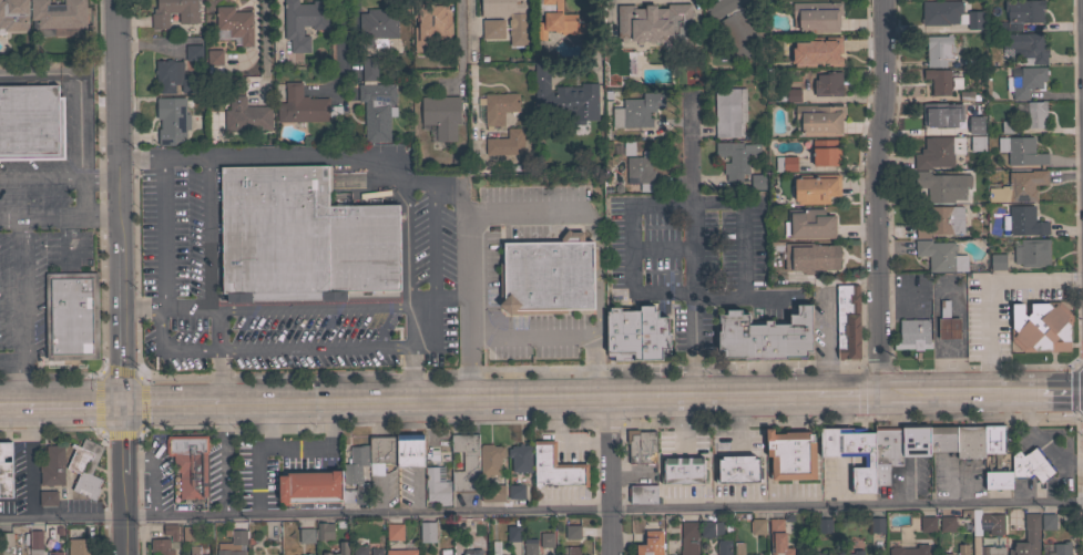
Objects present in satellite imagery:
building: (1023, 12)
building: (13, 14)
building: (949, 14)
building: (57, 16)
building: (816, 17)
building: (188, 18)
building: (509, 18)
building: (560, 21)
building: (302, 22)
building: (235, 23)
building: (656, 24)
building: (377, 27)
building: (737, 27)
building: (431, 29)
building: (492, 29)
road: (459, 42)
road: (472, 42)
building: (796, 44)
road: (340, 45)
building: (1026, 47)
building: (826, 49)
building: (938, 50)
building: (194, 52)
building: (214, 58)
building: (369, 69)
building: (173, 76)
building: (941, 81)
building: (1024, 81)
building: (828, 84)
building: (794, 94)
building: (968, 95)
building: (564, 96)
building: (302, 105)
road: (79, 107)
building: (498, 107)
building: (377, 110)
building: (636, 111)
building: (729, 112)
building: (1035, 114)
building: (246, 115)
building: (441, 115)
building: (934, 115)
building: (172, 120)
building: (819, 120)
building: (965, 123)
building: (1007, 126)
building: (24, 133)
building: (507, 143)
building: (977, 143)
building: (1021, 151)
building: (938, 152)
building: (825, 153)
road: (348, 156)
building: (735, 157)
building: (527, 163)
building: (785, 163)
building: (641, 172)
road: (41, 176)
road: (100, 176)
building: (757, 182)
building: (941, 186)
building: (1018, 187)
building: (816, 188)
road: (876, 194)
road: (682, 202)
road: (60, 216)
building: (941, 222)
building: (1023, 222)
building: (810, 224)
building: (272, 232)
road: (159, 233)
road: (204, 239)
road: (432, 240)
road: (407, 244)
road: (467, 245)
road: (692, 246)
building: (360, 247)
building: (1031, 253)
building: (940, 256)
building: (810, 257)
building: (997, 261)
road: (121, 277)
building: (543, 286)
road: (992, 292)
road: (440, 297)
road: (307, 308)
road: (21, 310)
building: (71, 315)
building: (847, 321)
building: (947, 323)
building: (1040, 327)
road: (215, 332)
building: (636, 335)
building: (912, 335)
building: (765, 336)
road: (316, 347)
road: (174, 348)
road: (412, 350)
road: (11, 360)
road: (500, 371)
road: (50, 373)
road: (221, 374)
road: (136, 376)
road: (1076, 387)
road: (1053, 389)
road: (605, 394)
road: (28, 403)
road: (89, 403)
traffic signals: (122, 403)
road: (155, 403)
road: (366, 423)
road: (51, 428)
building: (941, 438)
road: (1038, 438)
building: (993, 439)
building: (915, 441)
building: (969, 441)
building: (641, 446)
building: (409, 450)
building: (381, 453)
building: (851, 453)
building: (790, 454)
building: (886, 454)
building: (432, 458)
building: (520, 458)
building: (490, 459)
building: (466, 462)
building: (190, 463)
building: (1030, 464)
building: (52, 466)
building: (85, 467)
building: (555, 467)
building: (737, 469)
building: (6, 470)
building: (683, 470)
road: (609, 474)
building: (356, 475)
building: (998, 477)
building: (437, 485)
road: (908, 485)
building: (310, 487)
building: (517, 492)
building: (492, 493)
building: (643, 494)
building: (48, 497)
road: (541, 510)
building: (746, 516)
building: (1048, 522)
building: (927, 523)
building: (947, 523)
building: (339, 524)
building: (876, 524)
building: (824, 525)
building: (456, 526)
building: (757, 526)
building: (479, 527)
building: (711, 528)
building: (727, 528)
building: (59, 531)
building: (171, 531)
building: (325, 531)
building: (995, 531)
building: (366, 532)
building: (395, 532)
building: (427, 532)
building: (514, 532)
building: (572, 532)
building: (191, 533)
building: (1031, 533)
building: (306, 535)
building: (238, 536)
building: (778, 537)
building: (251, 538)
building: (688, 538)
building: (7, 539)
building: (546, 539)
building: (468, 541)
building: (35, 543)
building: (651, 544)
building: (82, 546)
building: (161, 546)
building: (531, 546)
building: (494, 547)
building: (724, 547)
building: (738, 548)
building: (1056, 548)
building: (339, 549)
building: (359, 549)
building: (910, 549)
building: (962, 549)
building: (194, 551)
building: (376, 551)
building: (565, 551)
building: (574, 551)
building: (956, 551)
building: (401, 552)
building: (54, 553)
building: (445, 553)
building: (852, 553)
building: (307, 554)
building: (755, 554)
building: (815, 554)
building: (948, 554)

